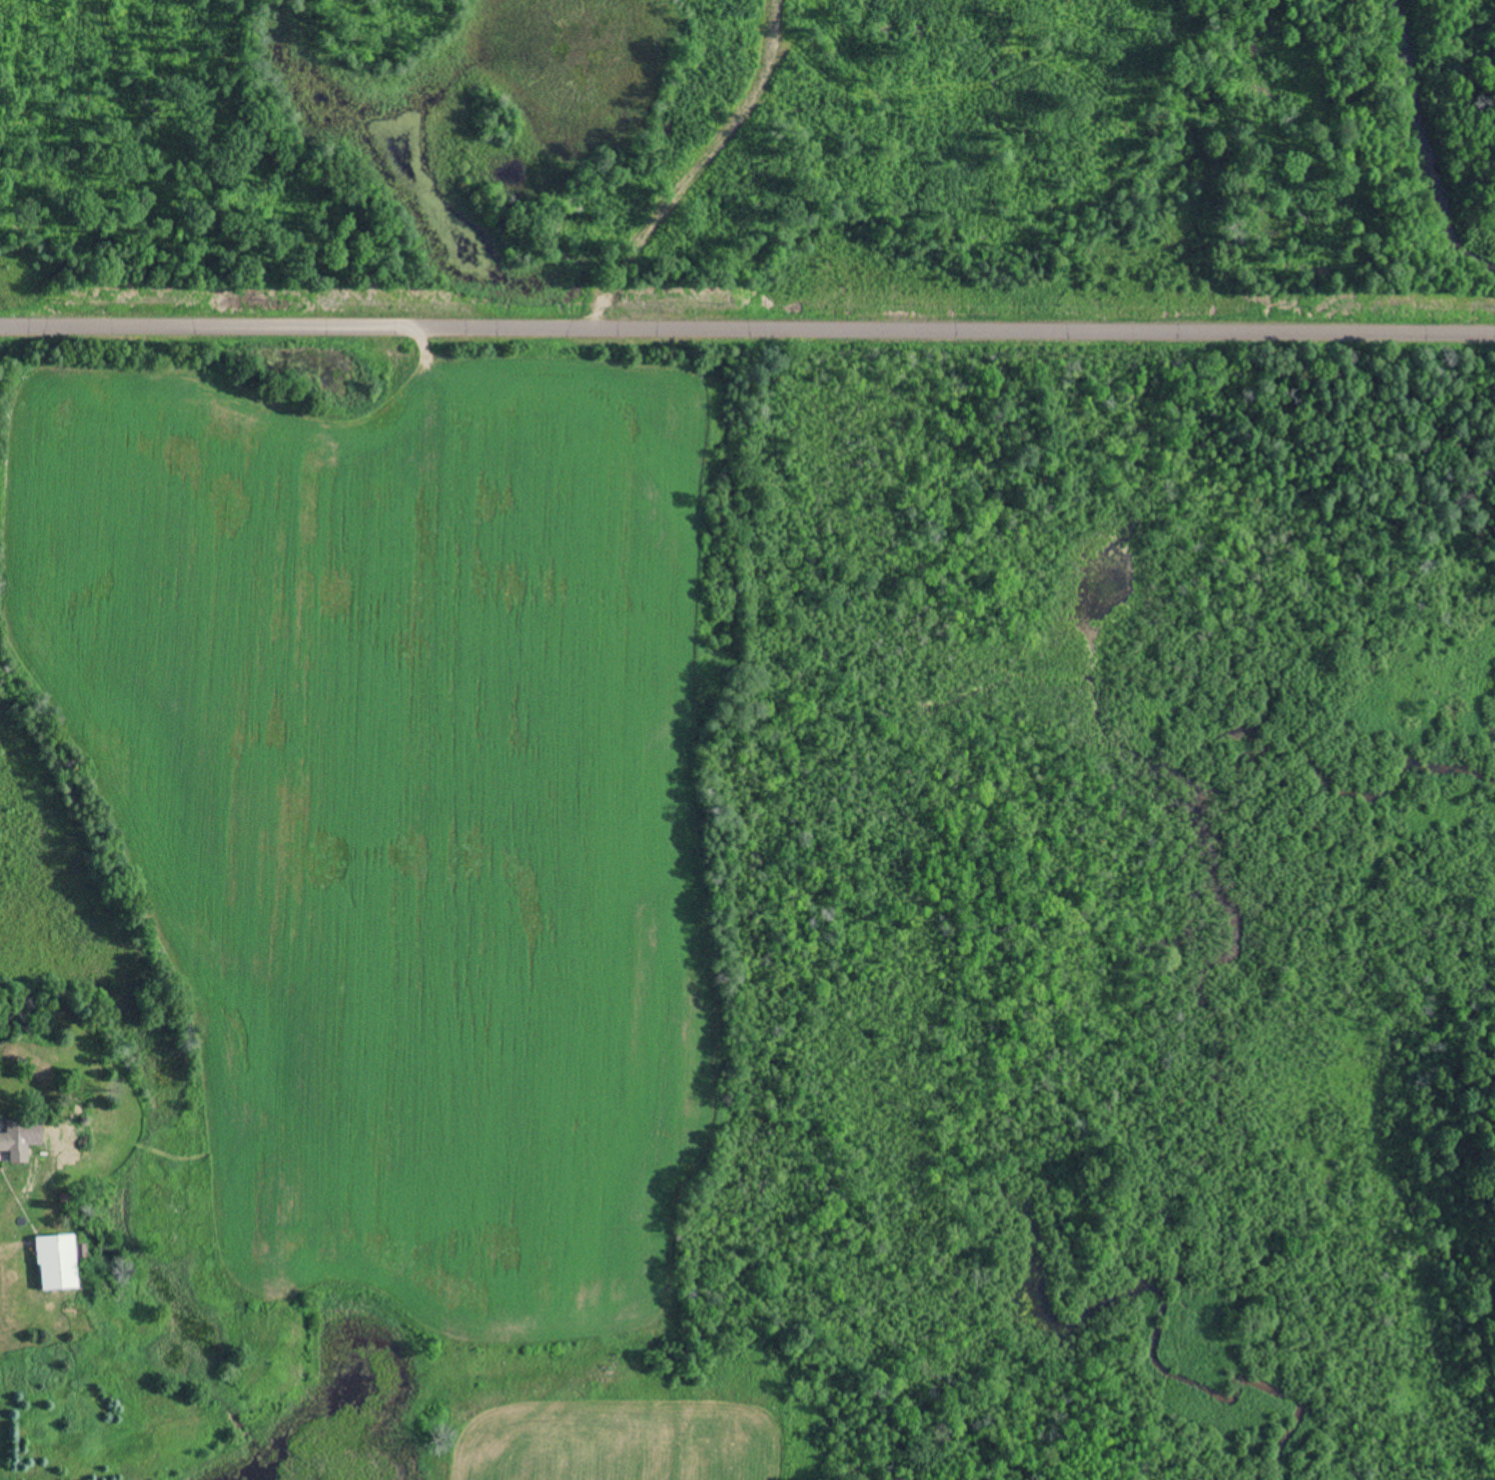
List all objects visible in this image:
river: (1430, 143)
road: (747, 331)
river: (1193, 1043)
building: (15, 1142)
building: (54, 1264)

